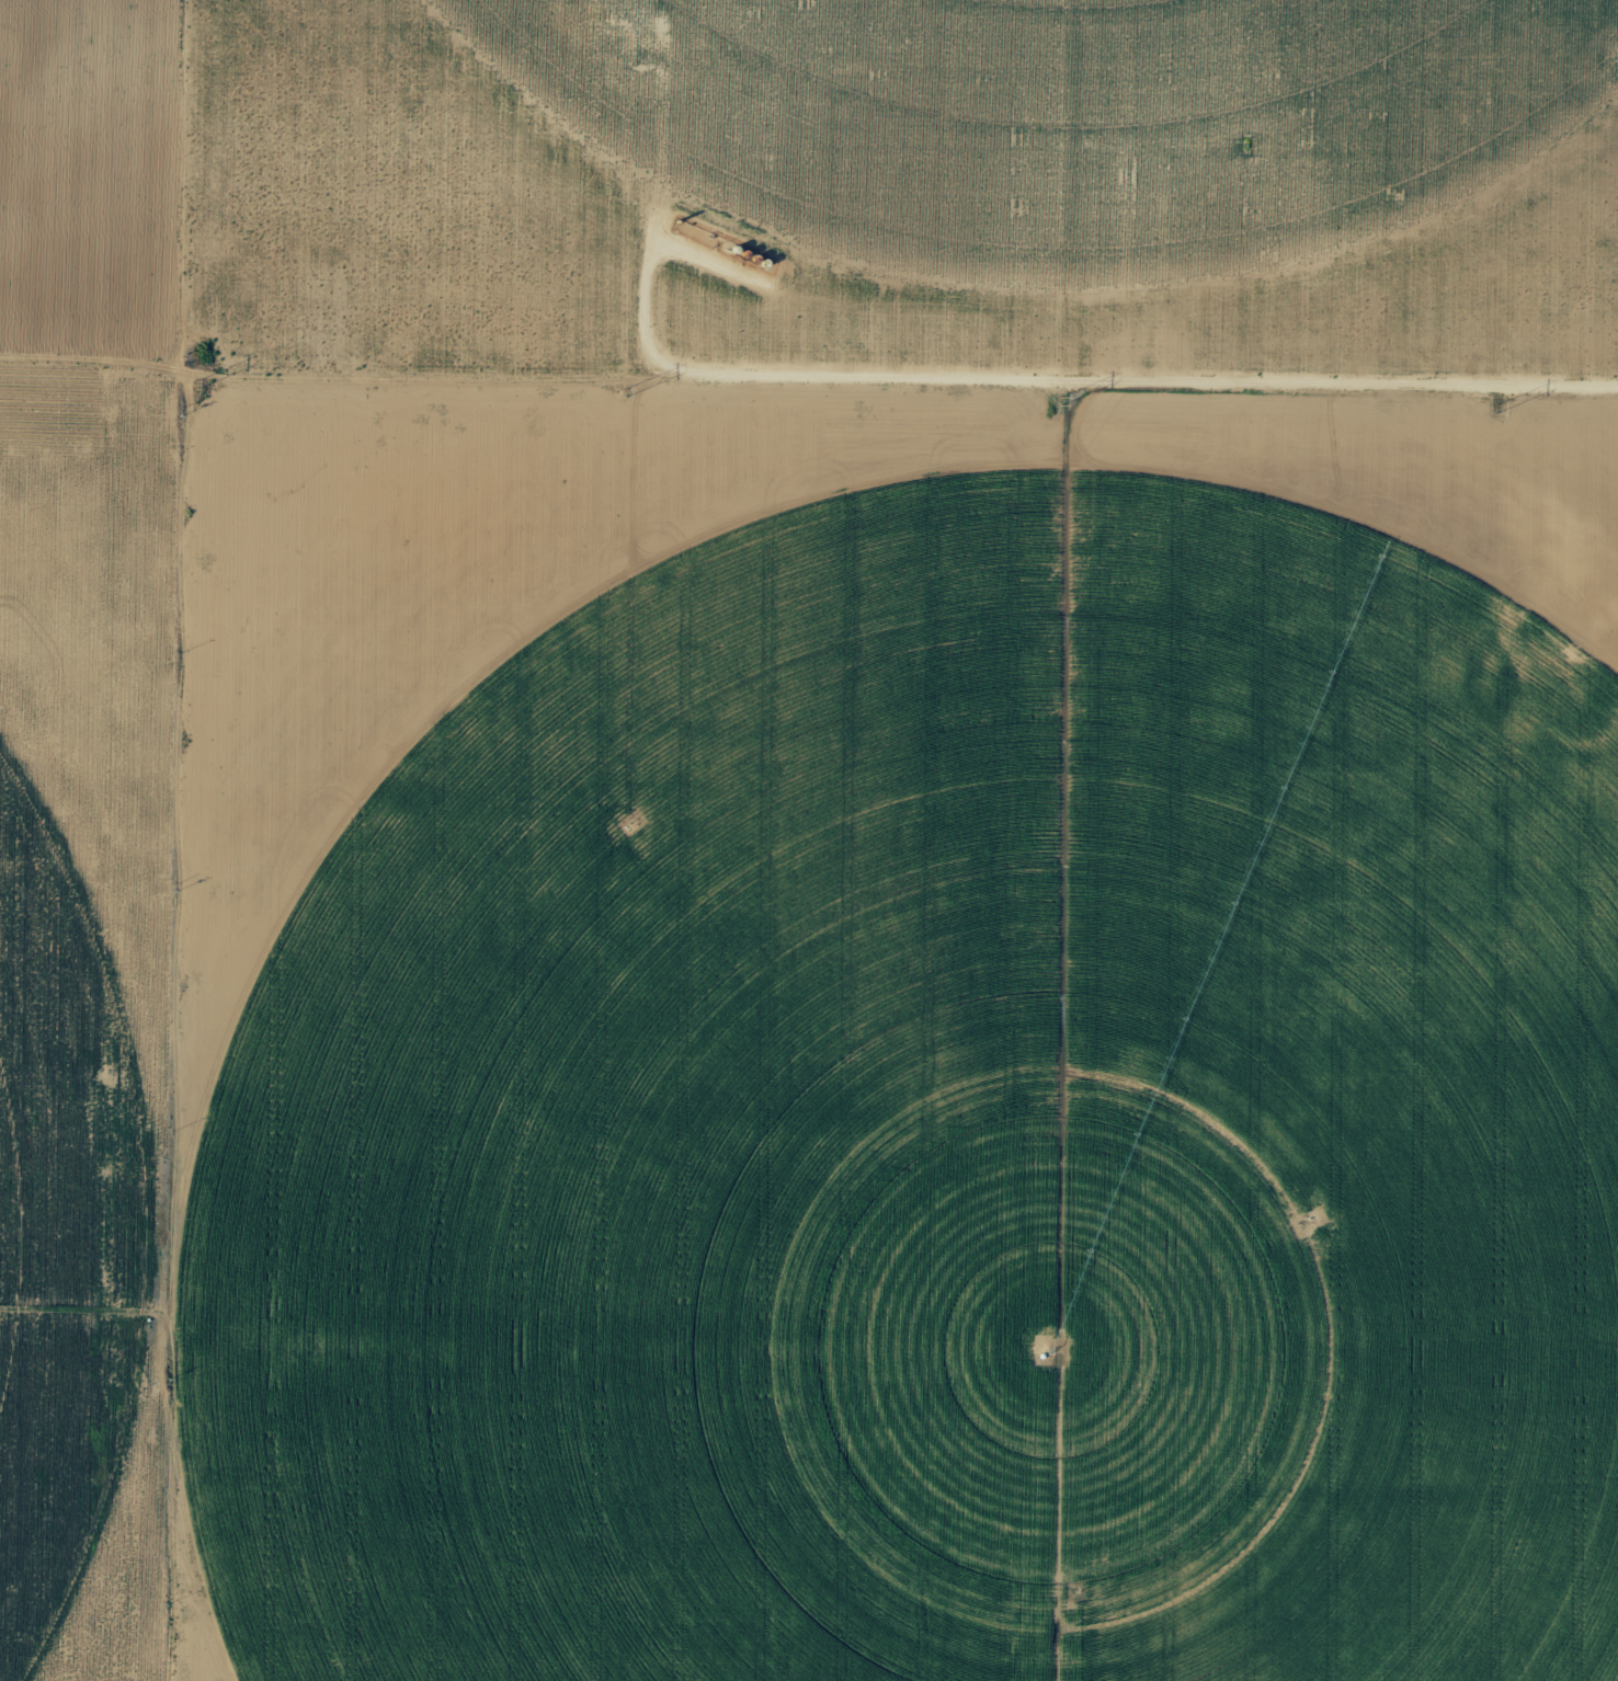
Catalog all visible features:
road: (808, 392)
road: (174, 840)

